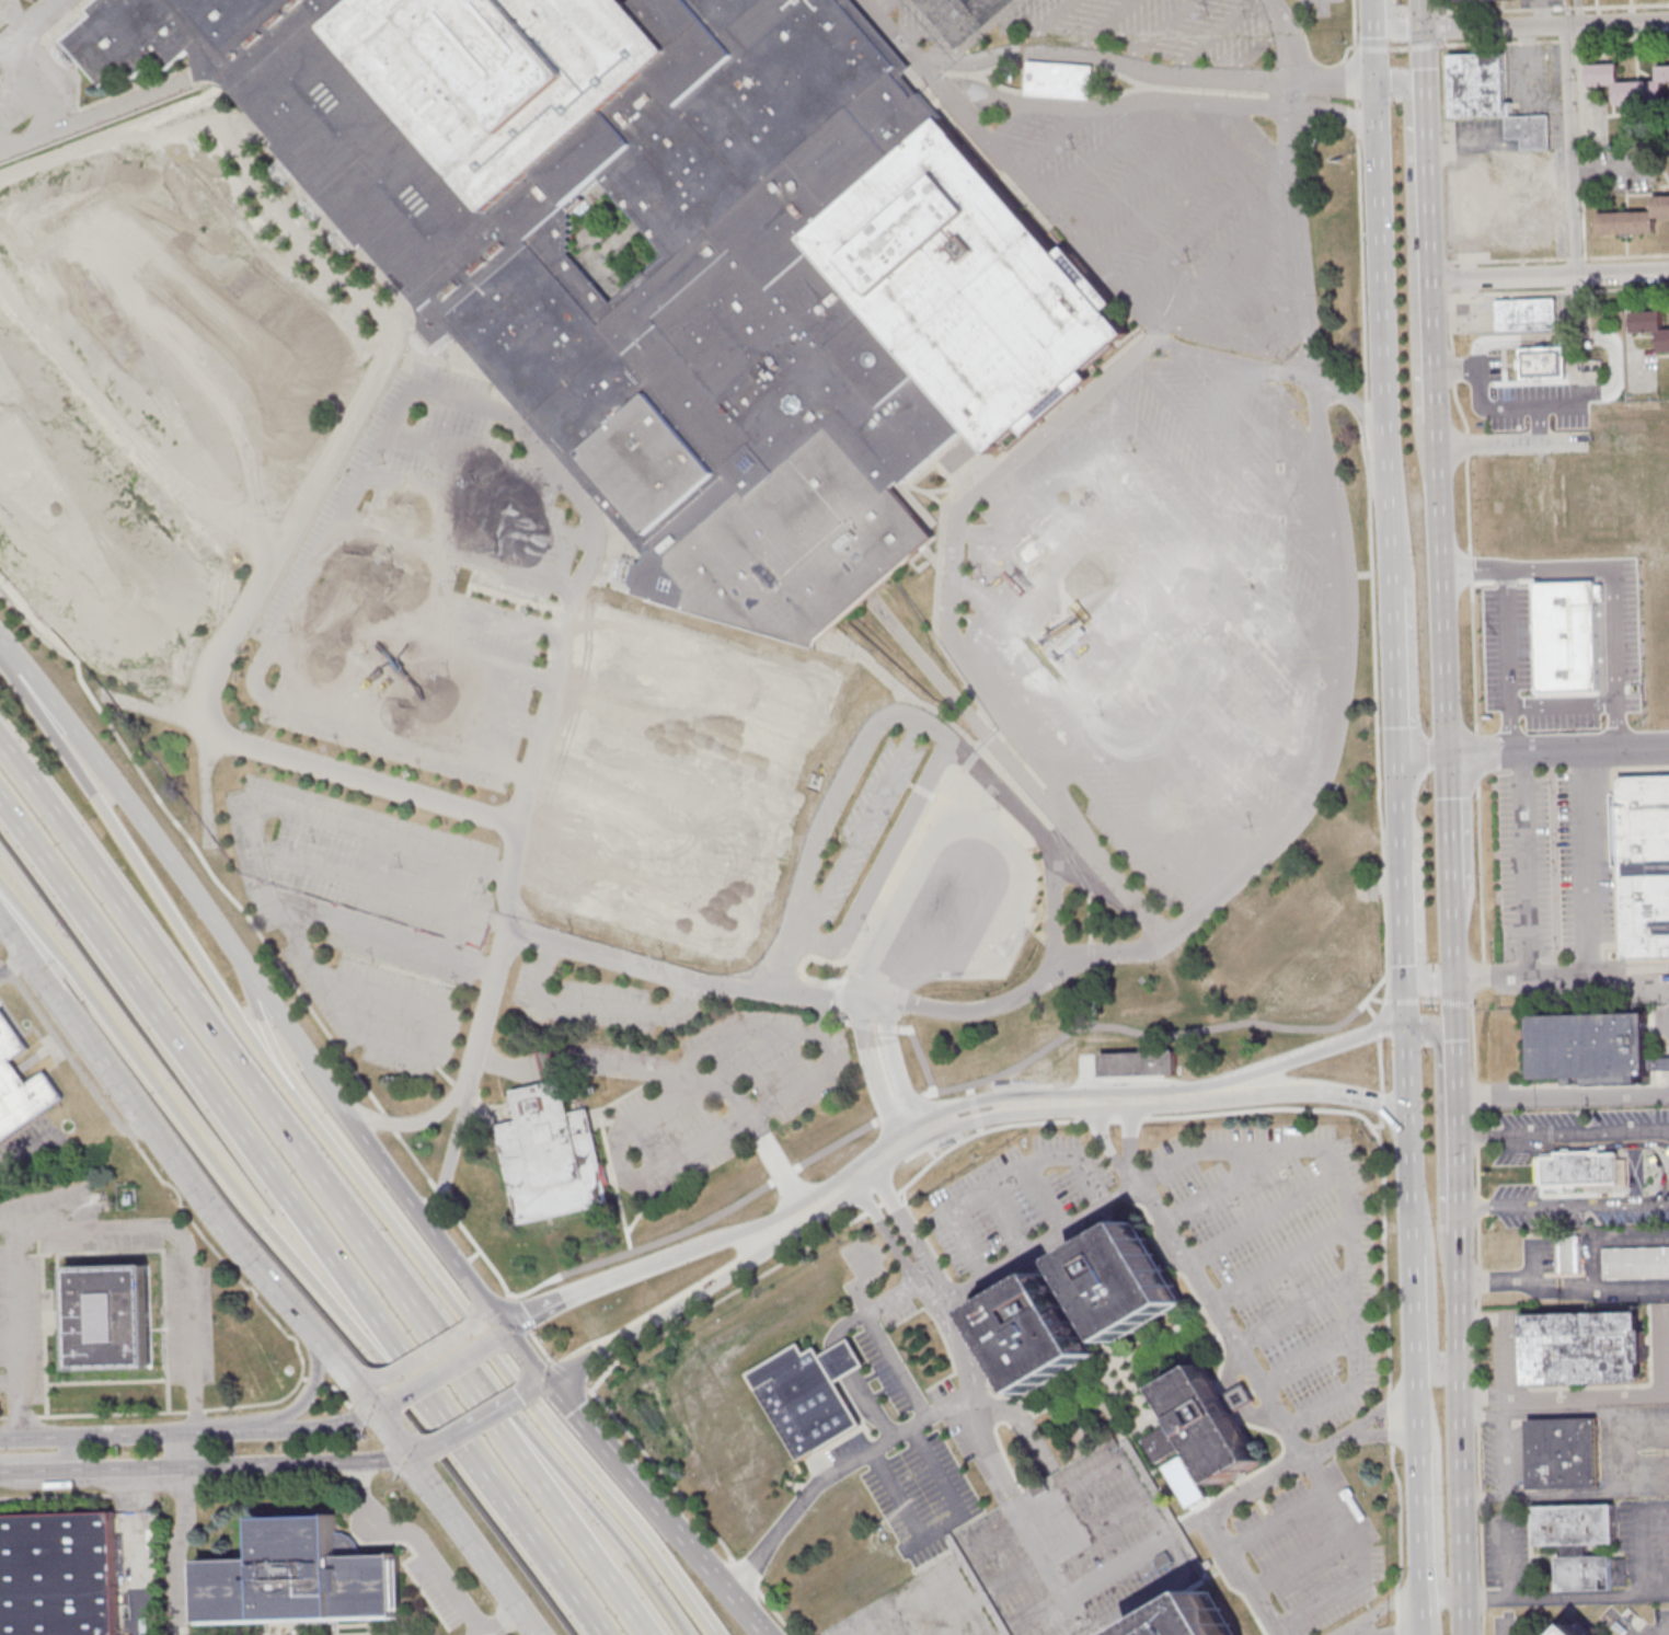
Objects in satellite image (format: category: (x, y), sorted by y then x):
road: (887, 5)
road: (1609, 7)
road: (1492, 9)
road: (1541, 9)
road: (1449, 10)
road: (1541, 14)
road: (930, 20)
road: (1292, 22)
road: (1440, 24)
road: (1047, 25)
road: (1103, 26)
road: (1546, 27)
road: (32, 30)
road: (978, 30)
traffic signals: (1425, 30)
road: (1159, 31)
road: (1392, 33)
road: (1211, 36)
road: (1622, 37)
road: (1567, 39)
road: (1500, 42)
road: (1371, 45)
road: (1425, 45)
road: (1397, 47)
road: (1255, 50)
road: (1072, 51)
road: (1338, 61)
road: (1355, 71)
building: (1060, 79)
road: (1338, 82)
traffic signals: (1380, 84)
building: (1628, 84)
road: (1165, 99)
road: (1356, 104)
road: (1343, 115)
road: (1013, 119)
road: (1356, 126)
road: (1054, 136)
road: (1258, 136)
traffic signals: (1382, 141)
road: (1105, 150)
road: (1569, 150)
building: (1507, 153)
road: (1146, 168)
road: (1429, 185)
road: (1173, 194)
building: (1634, 219)
road: (1200, 223)
road: (1384, 250)
road: (1413, 253)
road: (1626, 255)
road: (1576, 257)
building: (675, 260)
road: (1221, 260)
road: (1508, 260)
road: (1551, 276)
road: (1362, 279)
road: (1248, 288)
road: (1558, 290)
building: (1526, 313)
building: (1650, 325)
road: (1235, 341)
building: (1541, 362)
road: (1234, 364)
road: (1427, 370)
road: (426, 387)
road: (1452, 387)
road: (1358, 407)
road: (1535, 407)
road: (482, 456)
road: (1010, 468)
road: (480, 508)
road: (1442, 530)
road: (1394, 542)
road: (459, 553)
road: (1542, 572)
road: (438, 597)
road: (424, 642)
road: (1517, 661)
road: (1397, 668)
road: (405, 690)
road: (1374, 690)
road: (914, 716)
road: (1447, 719)
road: (1593, 747)
traffic signals: (1448, 748)
road: (1424, 749)
traffic signals: (1400, 750)
road: (1483, 750)
road: (1474, 758)
road: (362, 774)
road: (123, 790)
road: (1449, 829)
road: (855, 837)
road: (209, 840)
road: (1523, 864)
road: (1590, 864)
building: (1644, 868)
road: (1478, 873)
road: (1234, 884)
road: (150, 885)
road: (1403, 886)
road: (385, 887)
road: (1021, 905)
road: (1418, 905)
road: (283, 911)
road: (875, 930)
building: (1276, 937)
road: (390, 939)
road: (12, 965)
road: (1489, 976)
road: (1476, 978)
road: (1598, 981)
road: (1383, 982)
traffic signals: (1453, 982)
road: (1190, 986)
road: (1402, 992)
road: (1428, 1000)
road: (594, 1003)
road: (1452, 1003)
road: (1467, 1006)
road: (1367, 1010)
road: (825, 1016)
traffic signals: (1402, 1022)
road: (1374, 1027)
road: (1235, 1028)
road: (266, 1033)
road: (1017, 1041)
road: (890, 1047)
building: (1593, 1047)
road: (867, 1057)
road: (229, 1060)
road: (575, 1061)
building: (1140, 1062)
road: (1377, 1067)
road: (945, 1068)
road: (816, 1074)
road: (1403, 1078)
road: (713, 1082)
building: (20, 1084)
road: (1562, 1093)
road: (1223, 1095)
road: (1454, 1099)
road: (739, 1106)
road: (1379, 1106)
road: (878, 1108)
road: (1020, 1110)
road: (1258, 1112)
road: (1109, 1118)
road: (993, 1120)
road: (408, 1121)
road: (147, 1125)
road: (1125, 1127)
road: (1101, 1133)
road: (1562, 1133)
traffic signals: (1405, 1135)
road: (987, 1140)
road: (367, 1141)
road: (1438, 1143)
road: (246, 1144)
building: (552, 1155)
road: (618, 1155)
road: (450, 1158)
road: (1405, 1158)
road: (853, 1162)
road: (779, 1167)
building: (1581, 1168)
road: (1223, 1184)
road: (233, 1191)
road: (883, 1202)
road: (1563, 1204)
road: (1345, 1208)
road: (10, 1217)
road: (1259, 1219)
road: (906, 1225)
road: (888, 1235)
road: (1605, 1239)
road: (1037, 1242)
road: (763, 1246)
road: (1384, 1253)
building: (1568, 1253)
road: (181, 1254)
building: (1636, 1262)
road: (618, 1264)
road: (1279, 1268)
road: (1426, 1287)
road: (1562, 1287)
road: (1455, 1298)
road: (480, 1300)
building: (1082, 1306)
road: (1476, 1314)
building: (110, 1316)
road: (1294, 1316)
traffic signals: (509, 1323)
parking lot: (189, 1324)
road: (841, 1325)
road: (18, 1326)
road: (503, 1327)
road: (1455, 1335)
road: (876, 1336)
road: (1510, 1339)
road: (1233, 1346)
building: (1585, 1347)
road: (428, 1348)
road: (529, 1351)
road: (1665, 1351)
road: (626, 1354)
road: (841, 1360)
road: (1307, 1360)
road: (442, 1365)
road: (338, 1367)
road: (350, 1370)
road: (506, 1374)
road: (555, 1377)
road: (1667, 1379)
traffic signals: (550, 1380)
road: (542, 1383)
road: (8, 1385)
building: (809, 1394)
road: (1567, 1395)
road: (381, 1404)
road: (870, 1406)
road: (1413, 1407)
road: (1381, 1408)
traffic signals: (372, 1409)
road: (288, 1411)
road: (1590, 1414)
road: (1481, 1415)
road: (1390, 1416)
road: (482, 1417)
building: (1206, 1424)
road: (313, 1428)
road: (223, 1430)
road: (1383, 1432)
road: (390, 1433)
road: (97, 1436)
road: (882, 1444)
road: (180, 1449)
road: (417, 1452)
building: (1562, 1452)
road: (1623, 1452)
road: (44, 1456)
traffic signals: (407, 1458)
road: (618, 1460)
road: (293, 1462)
road: (90, 1467)
road: (936, 1471)
road: (1481, 1492)
road: (896, 1495)
road: (1555, 1496)
road: (574, 1497)
road: (1432, 1498)
road: (1459, 1498)
road: (1332, 1505)
road: (546, 1506)
road: (1398, 1513)
road: (1022, 1520)
road: (1271, 1520)
road: (942, 1527)
road: (1208, 1529)
road: (1639, 1534)
building: (1580, 1543)
road: (471, 1546)
road: (173, 1550)
road: (1505, 1554)
road: (428, 1557)
road: (540, 1562)
road: (1302, 1566)
building: (58, 1574)
building: (300, 1577)
road: (744, 1578)
road: (726, 1587)
road: (1654, 1593)
road: (897, 1597)
road: (1550, 1597)
road: (1331, 1598)
road: (1388, 1607)
road: (1400, 1611)
road: (773, 1613)
road: (944, 1619)
building: (1194, 1620)
road: (1625, 1623)
road: (1500, 1627)
road: (1370, 1630)
road: (480, 1631)
building: (1574, 1631)
road: (842, 1632)

